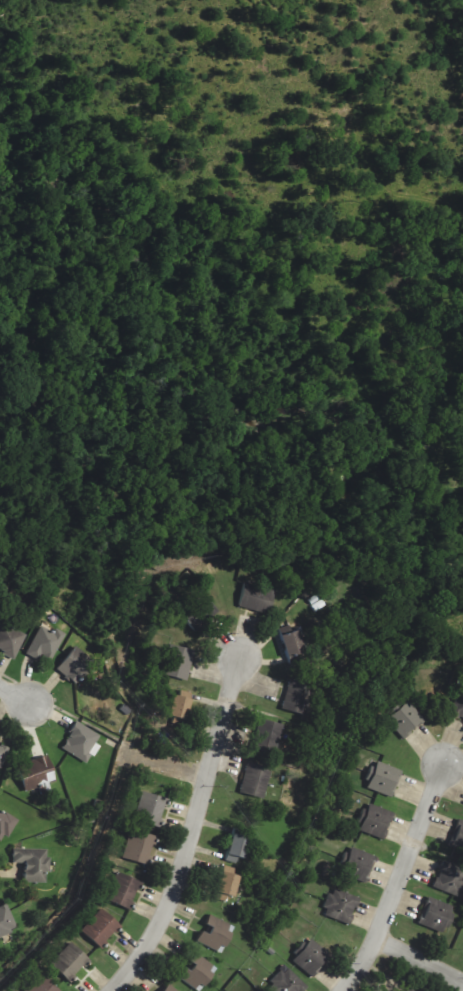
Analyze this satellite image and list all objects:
building: (256, 597)
building: (198, 611)
building: (10, 640)
building: (45, 643)
building: (291, 645)
building: (177, 662)
building: (73, 663)
road: (16, 694)
building: (297, 696)
building: (177, 706)
building: (458, 706)
building: (404, 719)
building: (266, 735)
building: (80, 742)
building: (2, 755)
road: (165, 763)
building: (36, 771)
building: (382, 778)
building: (254, 780)
building: (150, 809)
building: (373, 820)
building: (5, 825)
road: (190, 830)
building: (457, 838)
building: (138, 846)
building: (235, 847)
building: (32, 864)
building: (356, 864)
building: (449, 878)
building: (226, 880)
road: (398, 880)
building: (122, 890)
building: (340, 906)
building: (435, 915)
building: (6, 921)
building: (100, 927)
building: (214, 933)
building: (309, 956)
building: (69, 961)
road: (419, 961)
building: (195, 970)
building: (285, 982)
building: (42, 985)
building: (168, 988)
building: (410, 989)

